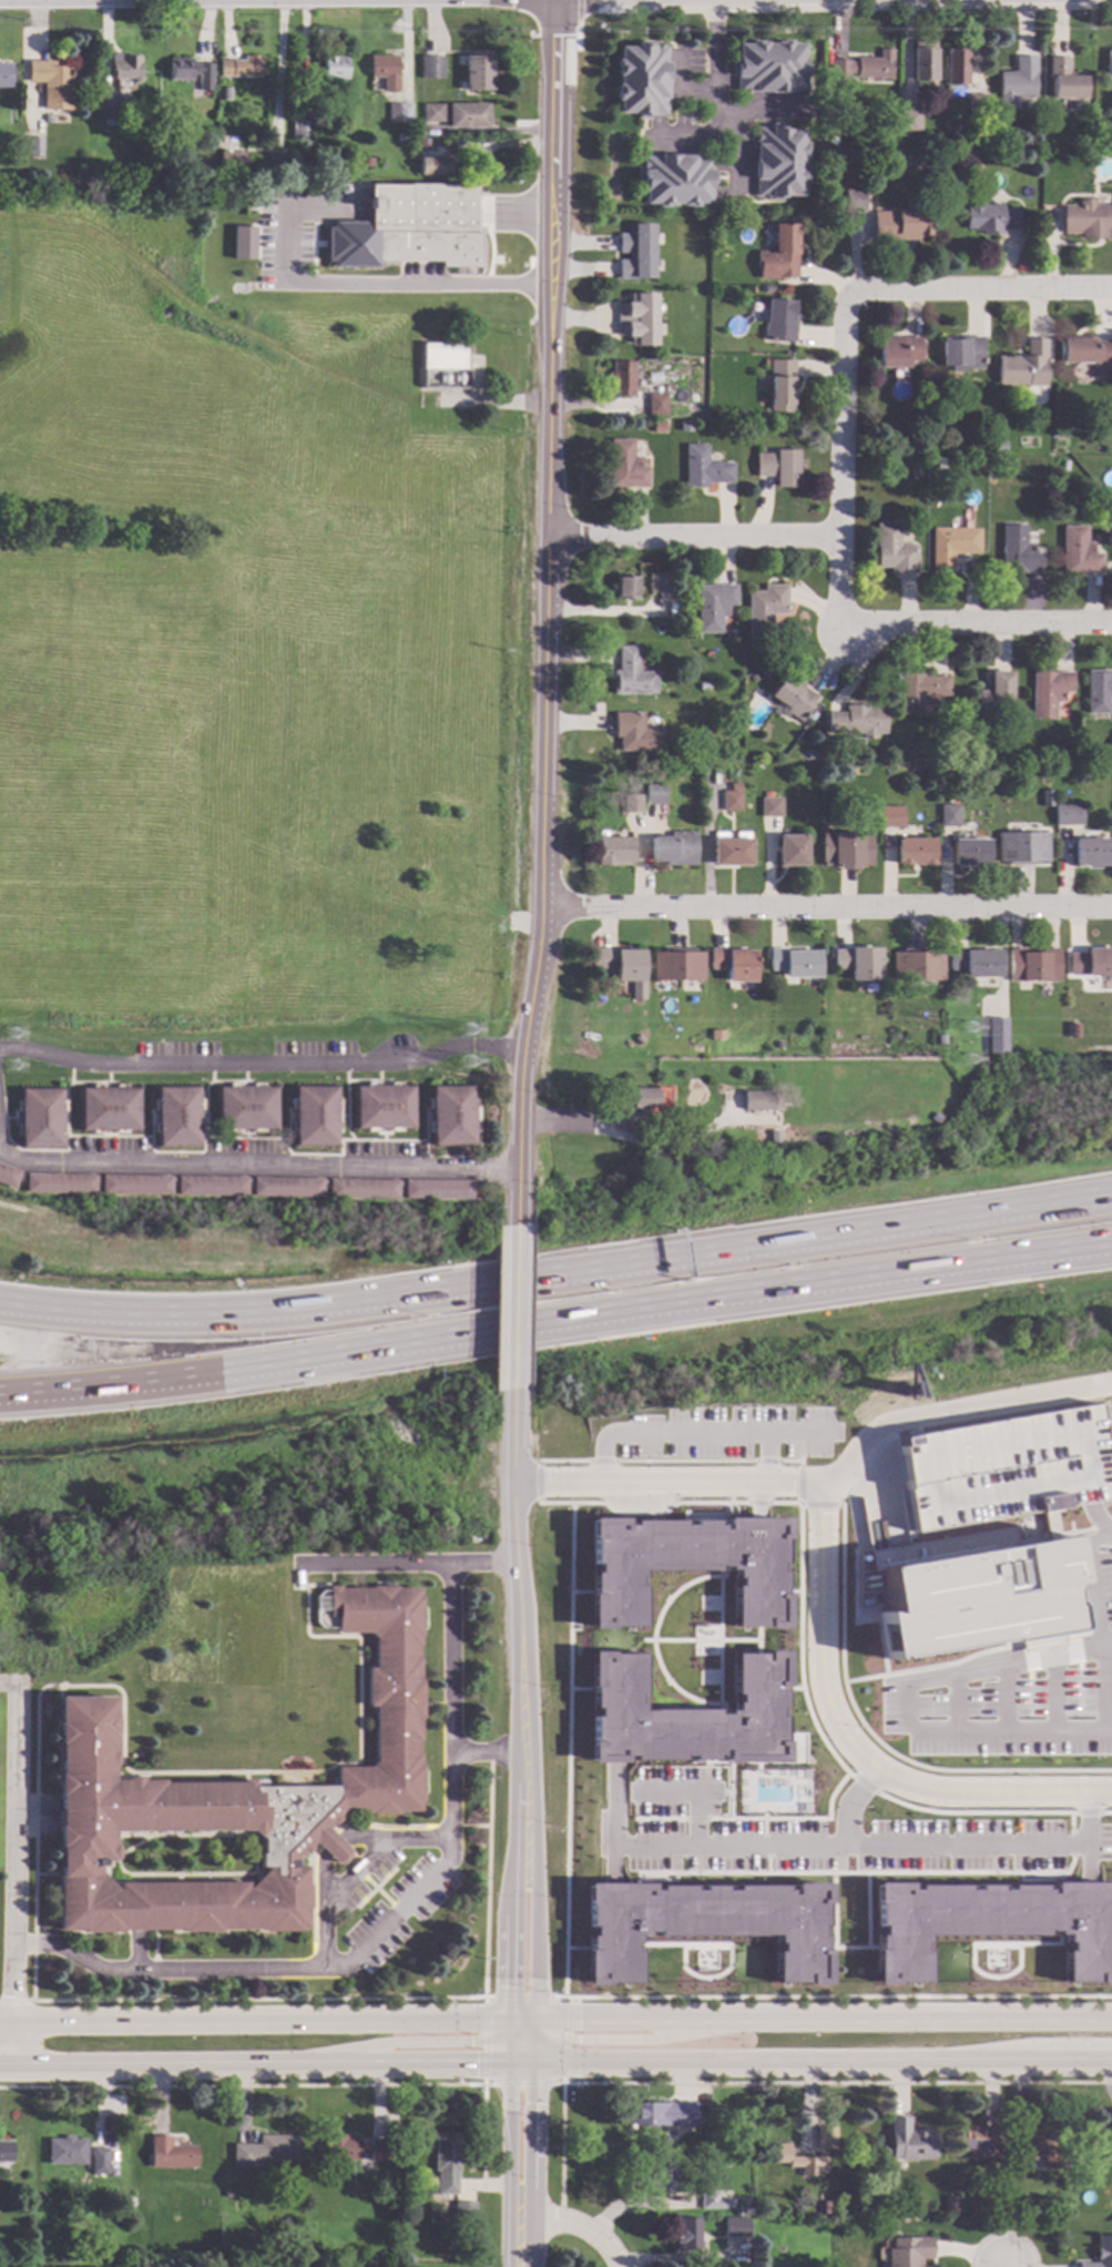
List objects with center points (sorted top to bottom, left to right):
building: (924, 62)
building: (1109, 63)
road: (280, 64)
building: (865, 67)
building: (957, 67)
building: (769, 68)
building: (242, 69)
building: (432, 69)
building: (125, 70)
building: (334, 70)
building: (386, 72)
building: (191, 73)
building: (478, 74)
building: (939, 74)
building: (6, 77)
building: (640, 80)
building: (1064, 81)
road: (685, 82)
building: (1017, 82)
building: (52, 85)
building: (373, 87)
building: (226, 94)
road: (715, 96)
building: (340, 98)
building: (977, 103)
building: (106, 104)
building: (345, 109)
building: (399, 114)
building: (433, 114)
building: (468, 115)
building: (48, 120)
road: (718, 121)
building: (909, 121)
building: (173, 129)
building: (402, 130)
building: (303, 132)
building: (424, 145)
building: (34, 149)
building: (827, 153)
building: (1031, 157)
building: (233, 161)
building: (277, 162)
building: (367, 163)
building: (778, 163)
building: (378, 165)
building: (435, 166)
building: (213, 175)
building: (951, 176)
building: (674, 181)
building: (853, 201)
building: (988, 217)
building: (1087, 221)
building: (899, 225)
building: (410, 228)
building: (243, 242)
building: (784, 251)
building: (636, 253)
road: (376, 284)
road: (980, 292)
building: (637, 319)
building: (778, 322)
building: (898, 352)
building: (962, 353)
building: (1087, 353)
building: (445, 356)
building: (1024, 367)
building: (452, 378)
building: (622, 379)
building: (781, 386)
building: (656, 405)
building: (684, 426)
building: (762, 426)
building: (656, 428)
road: (841, 458)
building: (941, 464)
building: (999, 464)
building: (625, 467)
building: (779, 468)
building: (704, 469)
building: (915, 472)
road: (694, 536)
building: (952, 547)
building: (895, 551)
building: (1020, 551)
building: (1079, 552)
building: (660, 583)
building: (625, 588)
building: (713, 607)
building: (765, 609)
road: (547, 612)
road: (977, 623)
building: (632, 675)
building: (704, 688)
building: (920, 691)
building: (1098, 692)
building: (1049, 693)
building: (996, 694)
building: (793, 699)
building: (732, 711)
building: (858, 722)
building: (707, 731)
building: (635, 734)
building: (1111, 749)
building: (812, 756)
building: (736, 789)
building: (655, 795)
building: (1048, 801)
building: (732, 802)
building: (633, 804)
building: (771, 809)
building: (1067, 815)
building: (949, 816)
building: (890, 817)
building: (1021, 848)
building: (675, 850)
building: (732, 850)
building: (847, 851)
building: (614, 852)
building: (792, 852)
building: (915, 852)
building: (1091, 853)
building: (970, 854)
road: (827, 907)
building: (857, 963)
building: (973, 963)
building: (733, 964)
building: (795, 964)
building: (1091, 964)
building: (677, 966)
building: (917, 966)
building: (1033, 966)
building: (625, 968)
building: (1072, 1031)
power tower: (10, 1033)
building: (716, 1036)
building: (996, 1037)
building: (639, 1040)
building: (936, 1040)
power tower: (471, 1041)
power tower: (970, 1043)
building: (778, 1046)
road: (262, 1063)
power tower: (473, 1068)
power tower: (975, 1068)
power tower: (10, 1070)
building: (762, 1100)
building: (635, 1106)
building: (384, 1108)
building: (792, 1108)
building: (246, 1109)
building: (109, 1110)
building: (451, 1116)
building: (177, 1117)
building: (314, 1117)
building: (40, 1119)
road: (645, 1145)
road: (255, 1160)
building: (8, 1177)
building: (60, 1183)
building: (135, 1186)
building: (211, 1187)
building: (287, 1188)
building: (363, 1189)
building: (438, 1190)
road: (557, 1269)
road: (514, 1307)
road: (555, 1324)
road: (955, 1410)
road: (725, 1431)
parking lot: (727, 1432)
road: (799, 1446)
road: (602, 1453)
road: (766, 1456)
road: (562, 1461)
road: (601, 1461)
road: (684, 1461)
road: (766, 1461)
road: (789, 1461)
building: (1002, 1467)
parking garage: (1002, 1467)
road: (539, 1482)
road: (666, 1482)
road: (799, 1484)
road: (758, 1494)
road: (757, 1503)
road: (784, 1503)
road: (818, 1503)
road: (641, 1513)
road: (758, 1513)
road: (1096, 1522)
road: (404, 1564)
building: (685, 1565)
road: (518, 1587)
building: (972, 1592)
road: (1098, 1622)
road: (1082, 1678)
parking lot: (1019, 1687)
road: (1029, 1689)
road: (1053, 1692)
road: (1004, 1697)
road: (1079, 1697)
road: (958, 1700)
road: (907, 1704)
road: (1029, 1706)
road: (1079, 1714)
building: (685, 1715)
road: (873, 1739)
road: (853, 1747)
road: (489, 1751)
road: (844, 1769)
road: (613, 1787)
road: (674, 1792)
road: (724, 1792)
building: (236, 1798)
road: (730, 1806)
road: (695, 1818)
road: (660, 1819)
road: (695, 1819)
road: (792, 1819)
parking lot: (827, 1837)
road: (755, 1843)
road: (992, 1844)
road: (613, 1851)
road: (513, 1852)
road: (1087, 1853)
road: (612, 1871)
road: (355, 1872)
road: (1088, 1873)
road: (13, 1874)
road: (534, 1901)
building: (991, 1923)
building: (704, 1924)
road: (381, 1927)
road: (510, 1970)
traffic signals: (510, 1988)
road: (589, 1997)
road: (523, 2019)
traffic signals: (578, 2019)
road: (824, 2019)
road: (255, 2021)
road: (510, 2030)
road: (535, 2030)
road: (526, 2032)
traffic signals: (578, 2040)
road: (649, 2040)
road: (390, 2042)
traffic signals: (470, 2042)
road: (520, 2050)
road: (509, 2052)
road: (535, 2052)
road: (823, 2061)
traffic signals: (476, 2064)
road: (522, 2064)
road: (254, 2066)
traffic signals: (534, 2103)
building: (661, 2112)
building: (826, 2137)
building: (909, 2139)
building: (979, 2141)
building: (1100, 2141)
building: (1048, 2146)
building: (357, 2147)
building: (65, 2149)
building: (266, 2149)
building: (6, 2151)
building: (170, 2153)
building: (795, 2158)
building: (99, 2159)
building: (446, 2161)
building: (1029, 2164)
road: (508, 2165)
road: (533, 2165)
building: (660, 2173)
building: (227, 2192)
building: (130, 2200)
building: (714, 2200)
building: (950, 2202)
building: (463, 2209)
building: (737, 2210)
building: (747, 2210)
road: (573, 2220)
building: (735, 2225)
building: (687, 2233)
building: (908, 2250)
building: (1101, 2253)

